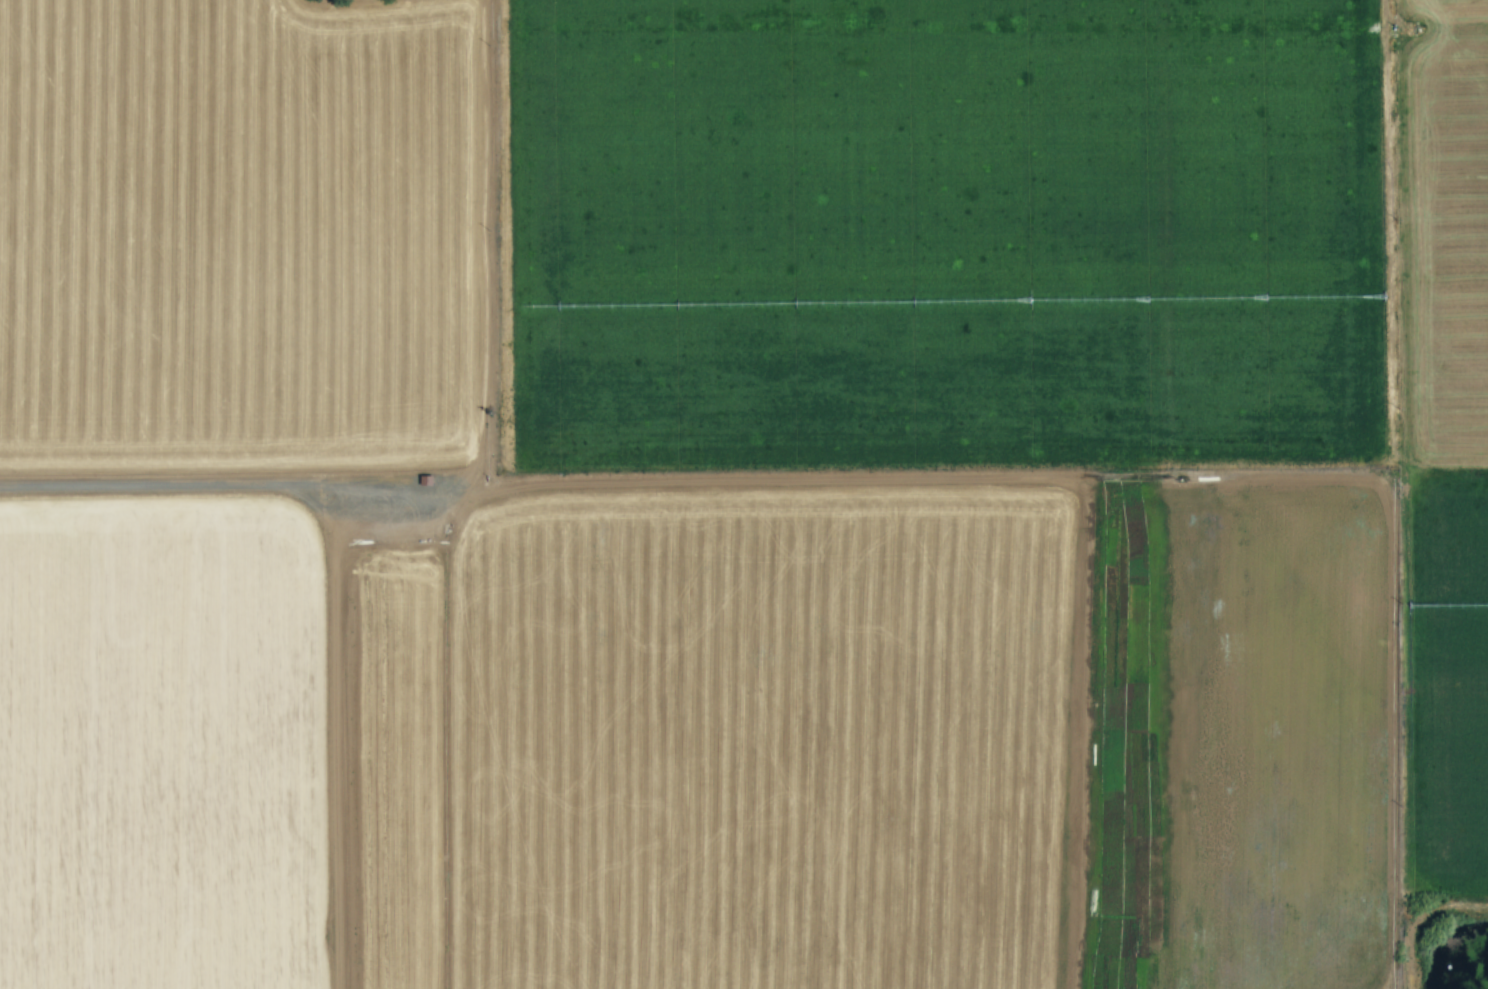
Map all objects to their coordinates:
road: (497, 239)

